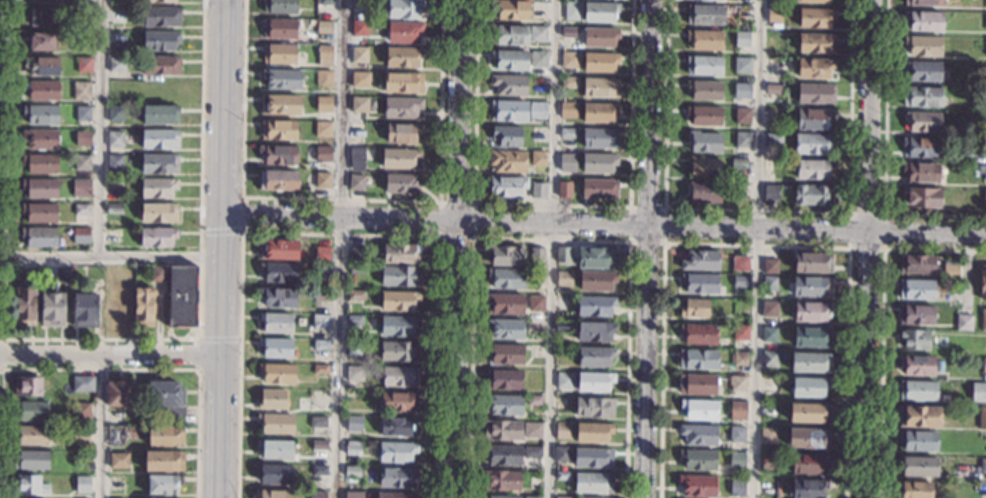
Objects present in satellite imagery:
building: (719, 0)
building: (44, 1)
building: (159, 1)
building: (704, 1)
building: (814, 1)
building: (985, 1)
building: (323, 2)
building: (923, 2)
building: (359, 5)
building: (280, 7)
building: (404, 9)
building: (511, 9)
building: (572, 10)
building: (600, 12)
building: (82, 13)
building: (775, 14)
building: (705, 15)
building: (40, 16)
building: (161, 17)
building: (815, 17)
building: (923, 20)
building: (985, 23)
building: (321, 26)
building: (359, 28)
building: (279, 29)
building: (404, 32)
building: (568, 33)
building: (510, 34)
building: (538, 34)
building: (599, 37)
building: (742, 39)
building: (83, 40)
building: (705, 40)
building: (159, 41)
building: (41, 42)
building: (816, 43)
building: (923, 47)
building: (279, 54)
building: (359, 55)
building: (324, 56)
building: (403, 57)
building: (538, 59)
building: (510, 60)
building: (570, 60)
building: (600, 62)
building: (83, 65)
building: (116, 65)
building: (742, 65)
building: (40, 66)
building: (159, 66)
building: (703, 66)
building: (774, 67)
building: (814, 68)
building: (923, 71)
building: (985, 72)
building: (324, 78)
building: (282, 79)
building: (360, 79)
road: (222, 80)
building: (538, 80)
building: (569, 82)
building: (403, 83)
building: (509, 85)
building: (600, 87)
building: (774, 87)
building: (42, 90)
building: (742, 90)
building: (80, 91)
building: (704, 91)
building: (816, 94)
building: (922, 97)
building: (985, 97)
building: (323, 104)
building: (359, 104)
building: (280, 105)
building: (402, 108)
building: (509, 110)
building: (568, 110)
building: (537, 111)
building: (599, 113)
building: (82, 114)
building: (114, 114)
building: (40, 115)
building: (159, 115)
building: (704, 116)
building: (742, 116)
road: (869, 116)
building: (814, 119)
building: (922, 122)
building: (985, 122)
road: (100, 129)
building: (278, 130)
building: (322, 130)
building: (402, 133)
building: (567, 133)
building: (538, 134)
building: (506, 136)
building: (81, 138)
building: (599, 138)
building: (39, 139)
building: (742, 139)
building: (114, 140)
building: (160, 140)
building: (704, 142)
building: (773, 142)
building: (813, 144)
building: (921, 147)
building: (983, 148)
building: (278, 154)
building: (323, 155)
building: (356, 158)
building: (565, 158)
building: (401, 159)
building: (538, 159)
building: (507, 161)
building: (80, 163)
building: (114, 163)
building: (598, 163)
building: (39, 164)
building: (739, 164)
building: (159, 165)
building: (704, 167)
building: (767, 167)
building: (813, 169)
building: (921, 172)
building: (985, 173)
building: (278, 180)
building: (323, 180)
building: (356, 184)
building: (402, 184)
building: (113, 185)
building: (507, 187)
building: (39, 188)
building: (80, 188)
road: (222, 188)
building: (157, 189)
building: (599, 189)
building: (538, 190)
building: (564, 190)
building: (704, 193)
building: (771, 193)
building: (811, 195)
road: (238, 197)
building: (920, 198)
building: (984, 201)
building: (80, 209)
building: (112, 209)
building: (37, 212)
building: (156, 213)
road: (545, 223)
road: (221, 231)
road: (927, 234)
building: (80, 236)
building: (156, 237)
building: (39, 238)
road: (337, 248)
road: (457, 249)
road: (552, 249)
road: (647, 249)
road: (757, 249)
road: (222, 250)
building: (278, 250)
building: (357, 251)
building: (322, 254)
building: (401, 254)
building: (506, 255)
building: (563, 255)
building: (537, 256)
road: (111, 258)
building: (597, 258)
building: (700, 261)
building: (813, 263)
building: (740, 264)
building: (917, 264)
building: (769, 266)
building: (357, 269)
building: (92, 271)
building: (950, 271)
building: (279, 272)
building: (61, 273)
building: (156, 273)
building: (321, 273)
building: (400, 276)
building: (539, 277)
building: (506, 278)
building: (564, 279)
building: (596, 281)
building: (740, 282)
building: (699, 283)
building: (982, 283)
building: (769, 284)
building: (812, 287)
building: (916, 289)
building: (181, 295)
building: (321, 295)
building: (356, 295)
building: (278, 297)
building: (398, 300)
building: (536, 303)
building: (506, 304)
building: (23, 305)
building: (142, 305)
building: (595, 306)
building: (51, 308)
building: (694, 308)
building: (83, 309)
building: (769, 309)
building: (812, 312)
building: (114, 313)
building: (916, 315)
road: (223, 320)
building: (354, 320)
building: (983, 321)
building: (276, 322)
building: (320, 322)
building: (963, 322)
building: (399, 326)
building: (534, 327)
building: (562, 327)
building: (505, 328)
building: (595, 331)
building: (740, 333)
building: (699, 334)
building: (769, 335)
building: (811, 337)
road: (100, 339)
road: (218, 339)
building: (914, 339)
building: (320, 345)
building: (276, 348)
building: (353, 348)
building: (399, 351)
building: (505, 353)
road: (3, 354)
road: (111, 355)
building: (595, 357)
building: (698, 359)
building: (739, 359)
building: (769, 359)
building: (811, 362)
road: (865, 365)
building: (916, 365)
building: (984, 366)
road: (100, 369)
road: (203, 369)
building: (320, 369)
building: (276, 374)
building: (354, 374)
building: (400, 377)
road: (223, 378)
building: (503, 379)
building: (563, 379)
building: (594, 382)
building: (80, 383)
building: (737, 384)
building: (26, 385)
building: (697, 385)
building: (769, 385)
building: (809, 387)
building: (917, 391)
building: (978, 391)
building: (117, 394)
building: (165, 399)
building: (272, 400)
building: (534, 401)
building: (398, 402)
building: (504, 404)
building: (594, 408)
building: (81, 409)
building: (29, 410)
building: (699, 410)
building: (737, 410)
building: (809, 413)
building: (114, 417)
building: (918, 417)
building: (982, 419)
building: (318, 422)
building: (353, 423)
building: (276, 424)
building: (396, 426)
road: (99, 427)
building: (502, 429)
building: (562, 429)
building: (532, 430)
building: (593, 432)
building: (29, 433)
building: (79, 434)
building: (163, 434)
building: (737, 434)
building: (118, 435)
building: (698, 435)
building: (768, 436)
building: (808, 438)
building: (917, 441)
building: (319, 445)
building: (274, 448)
building: (352, 448)
road: (221, 450)
building: (396, 452)
building: (532, 452)
building: (561, 454)
building: (503, 455)
building: (81, 456)
building: (738, 457)
building: (114, 458)
building: (593, 458)
building: (28, 459)
building: (162, 460)
building: (697, 460)
building: (769, 463)
building: (809, 464)
building: (919, 466)
building: (983, 466)
building: (319, 471)
building: (352, 471)
building: (274, 474)
building: (562, 476)
building: (396, 477)
building: (501, 480)
building: (80, 481)
building: (162, 483)
building: (592, 483)
building: (27, 485)
building: (697, 486)
building: (736, 488)
building: (808, 488)
building: (914, 490)
building: (272, 494)
building: (317, 494)
building: (354, 495)
building: (396, 495)
building: (150, 497)
building: (498, 497)
building: (530, 497)
building: (560, 497)
building: (588, 497)

